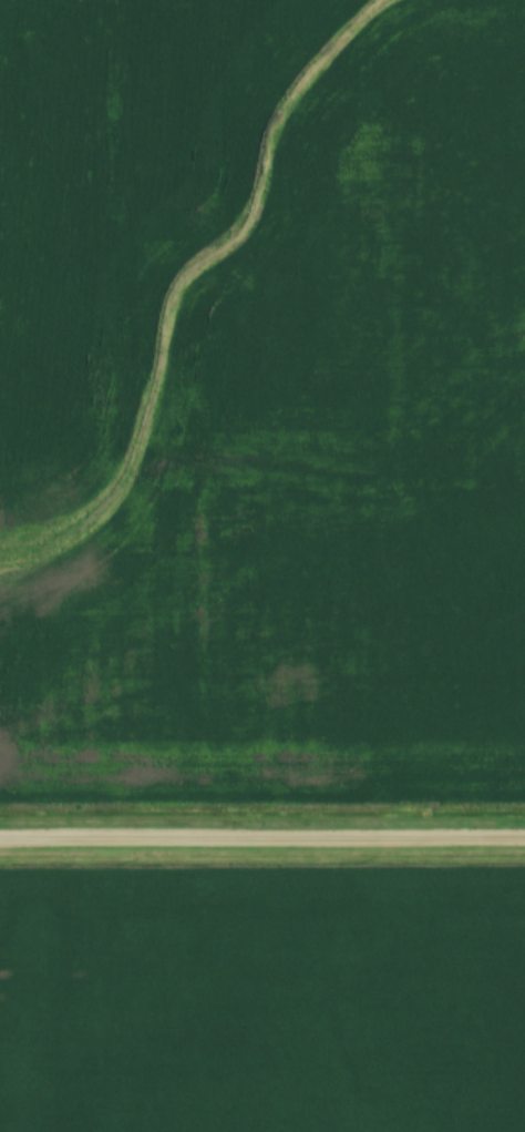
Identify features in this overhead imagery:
road: (262, 839)

